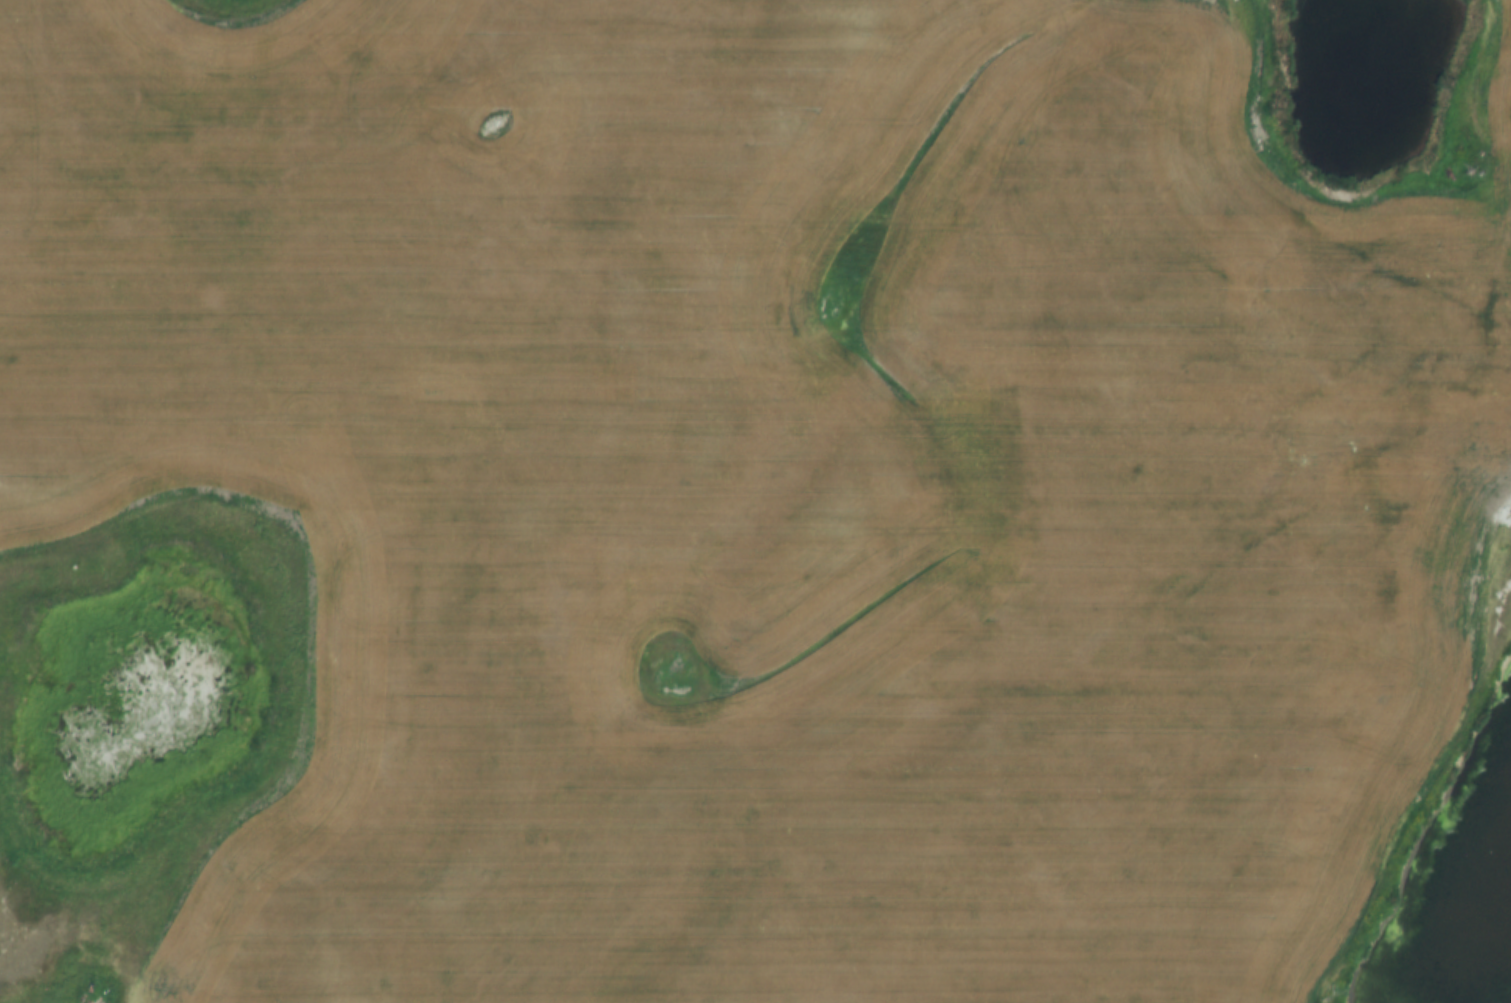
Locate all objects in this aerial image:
road: (16, 974)

